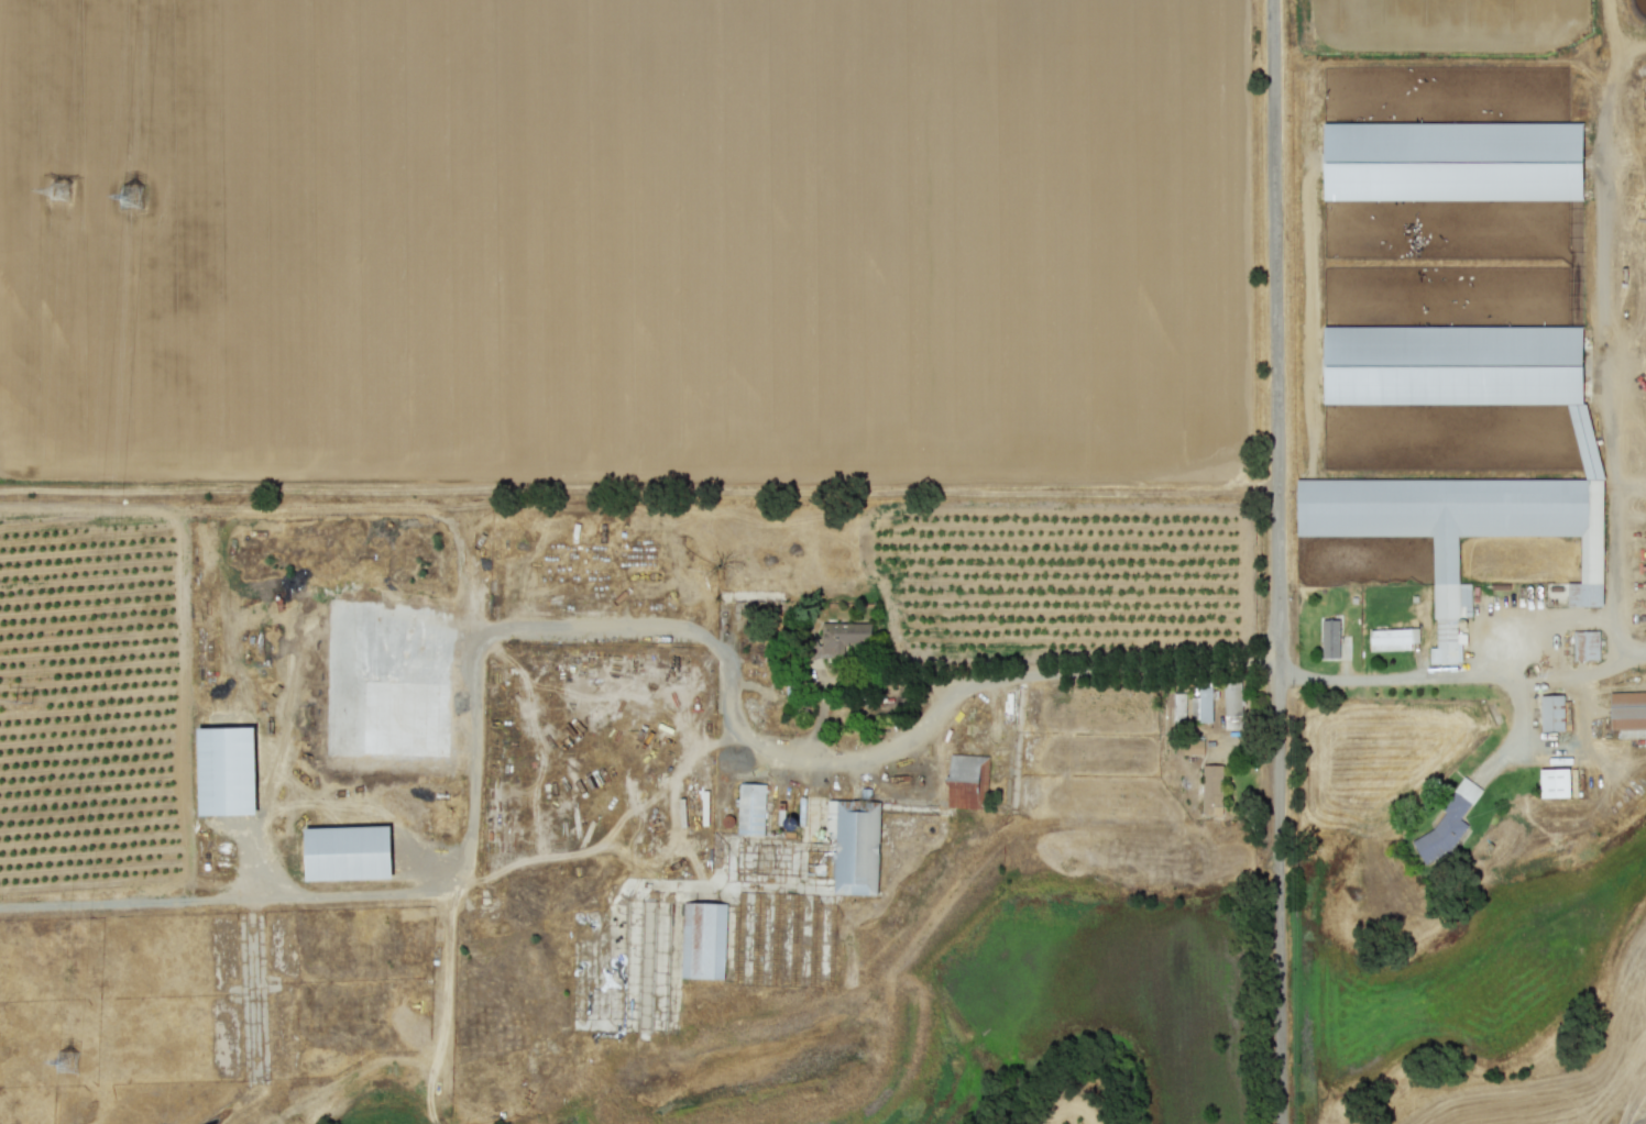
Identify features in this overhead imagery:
building: (1450, 157)
power tower: (53, 189)
power tower: (139, 195)
road: (1606, 360)
building: (1584, 440)
road: (1279, 561)
building: (1448, 611)
road: (702, 637)
building: (841, 637)
building: (1329, 638)
building: (1392, 638)
building: (1584, 644)
road: (1464, 674)
building: (1231, 704)
building: (1188, 705)
building: (1551, 712)
building: (1627, 713)
building: (1195, 746)
road: (1546, 748)
building: (226, 770)
building: (966, 780)
building: (1554, 782)
building: (1210, 786)
building: (750, 808)
building: (1448, 819)
building: (854, 845)
building: (347, 851)
building: (702, 939)
power tower: (74, 1065)
crop: (1062, 1103)

